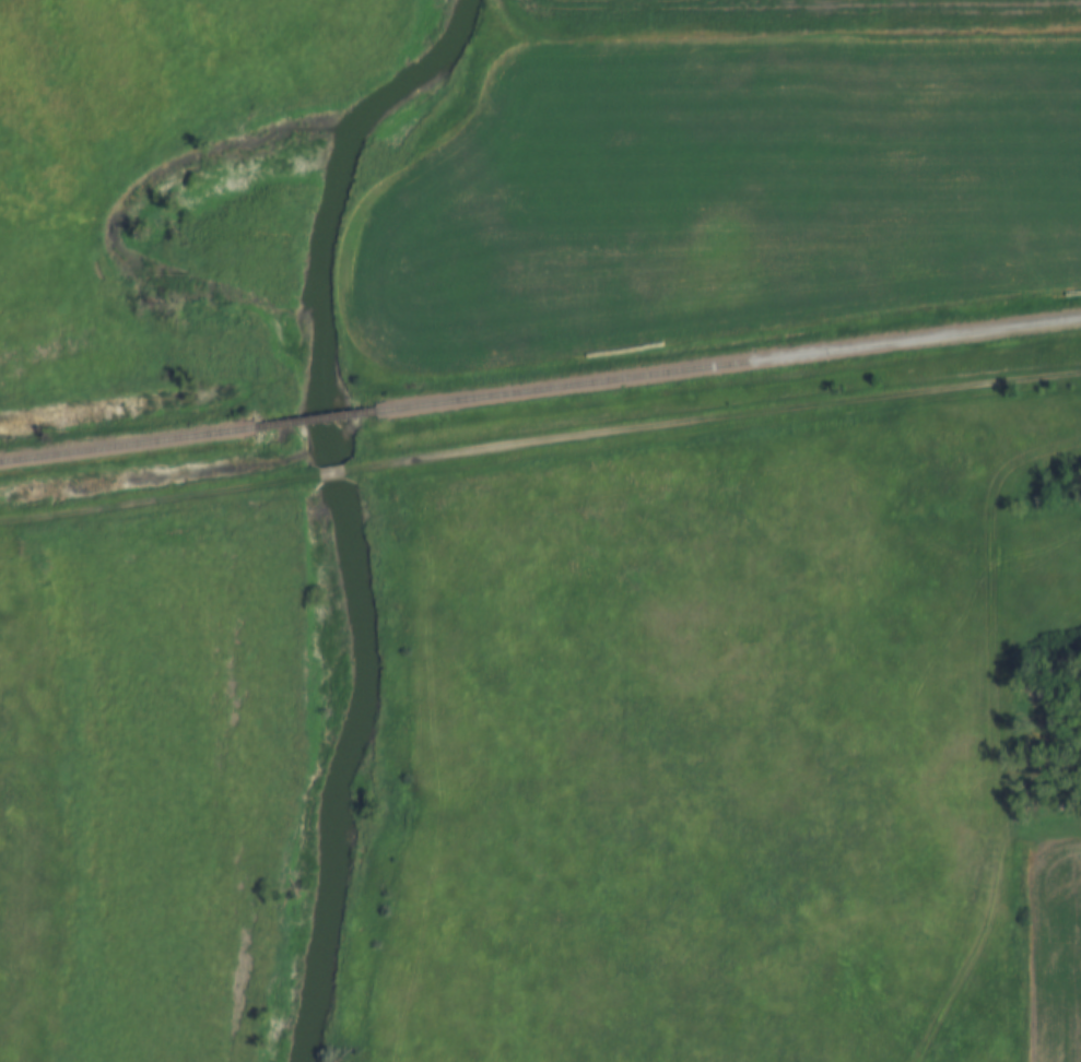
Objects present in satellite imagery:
railway: (728, 362)
railway: (315, 417)
road: (712, 422)
railway: (127, 442)
road: (330, 471)
road: (158, 499)
river: (339, 509)

